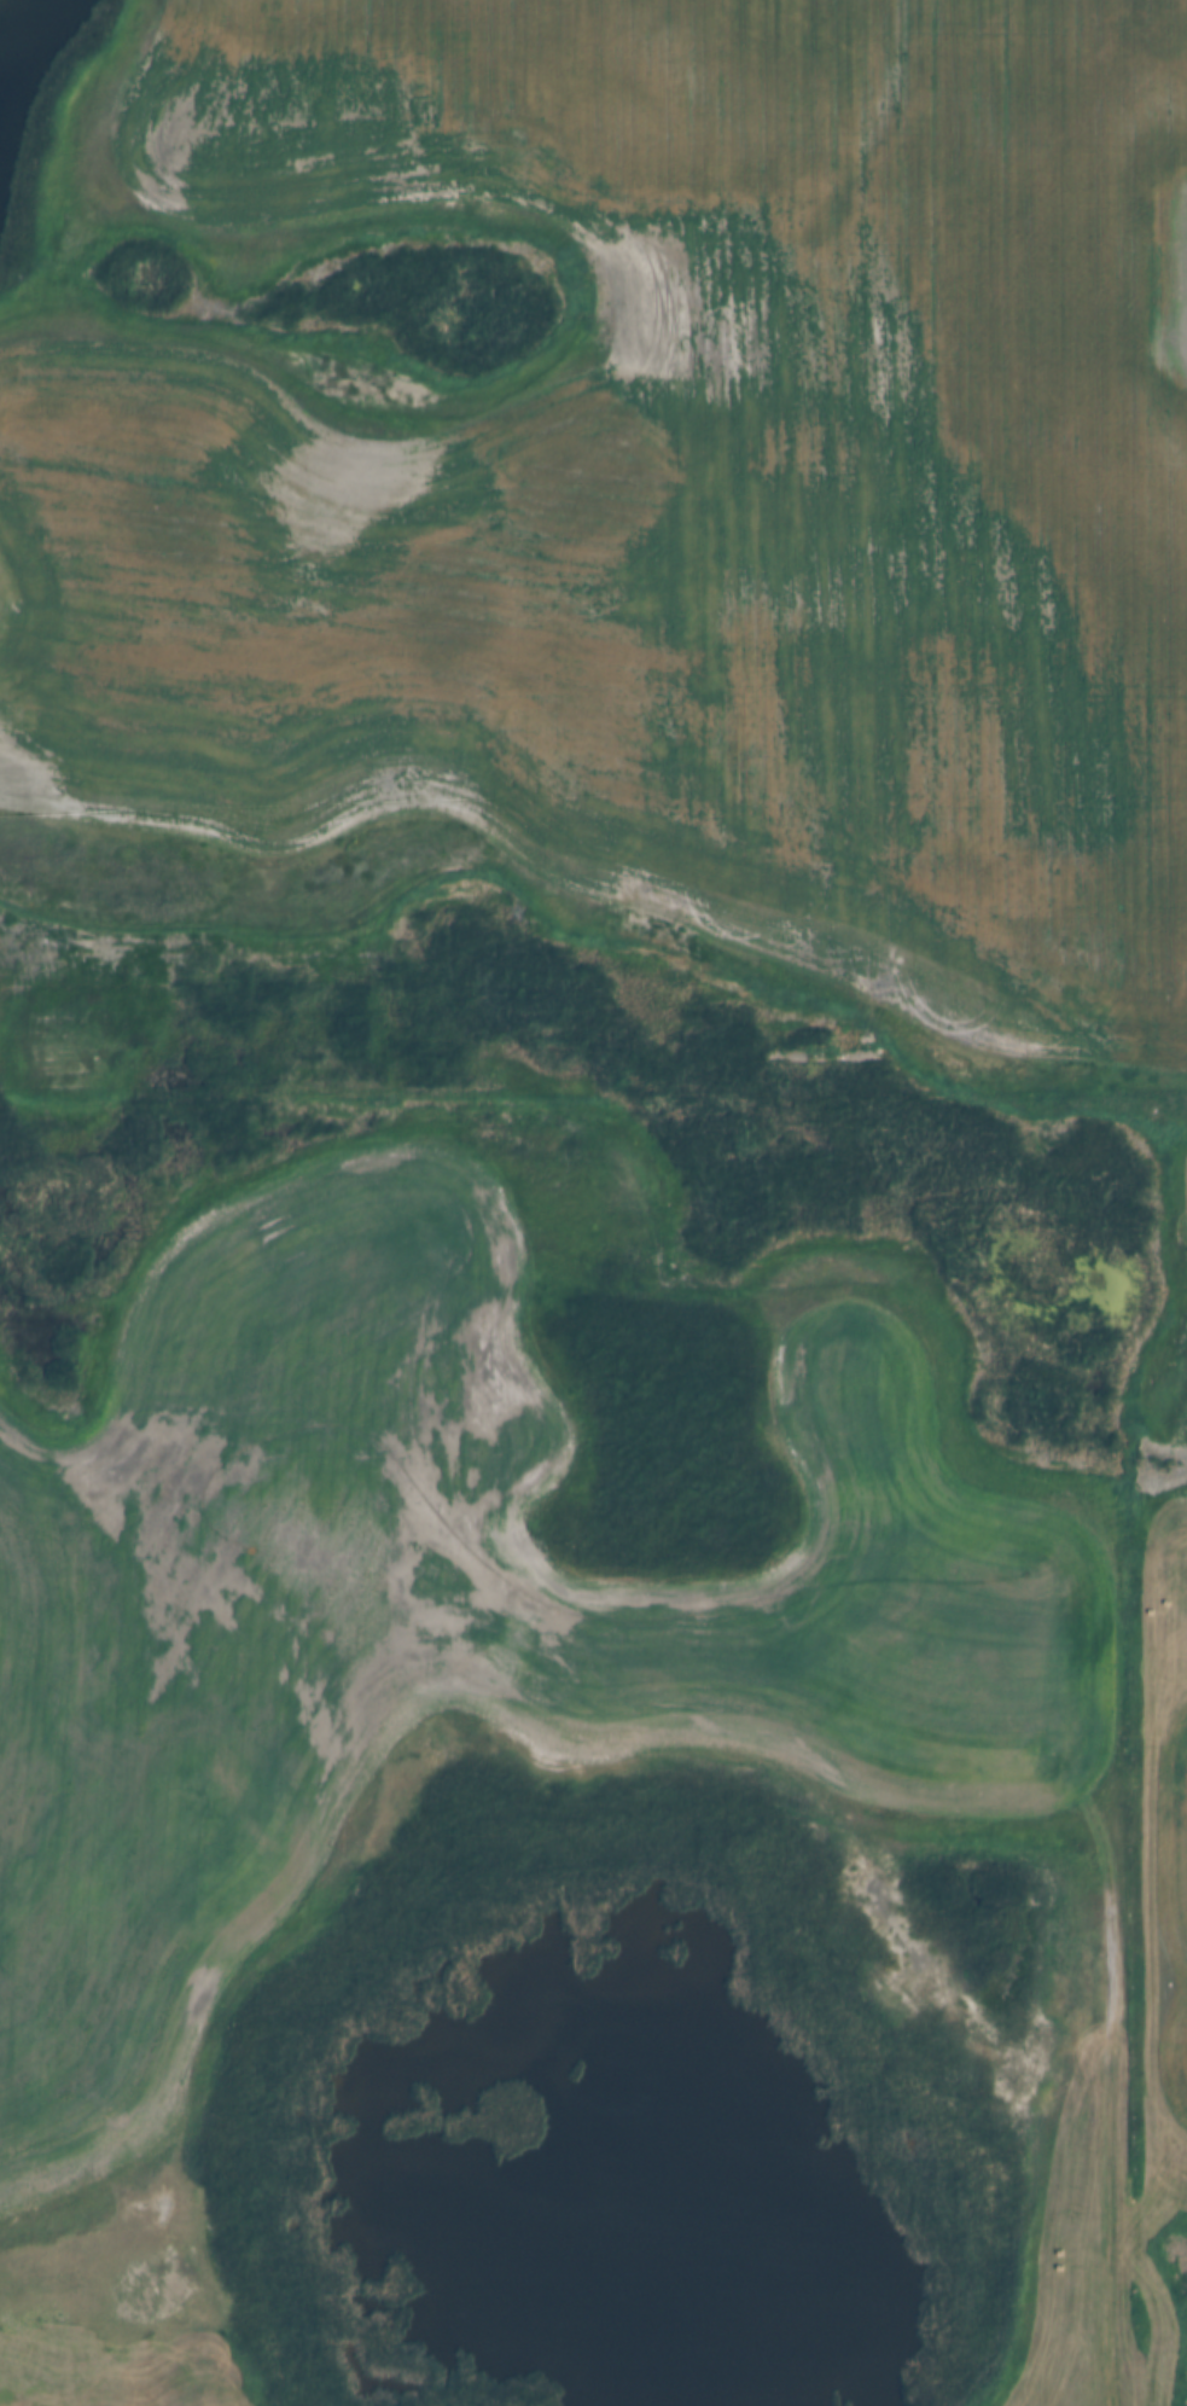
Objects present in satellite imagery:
road: (1101, 2131)

